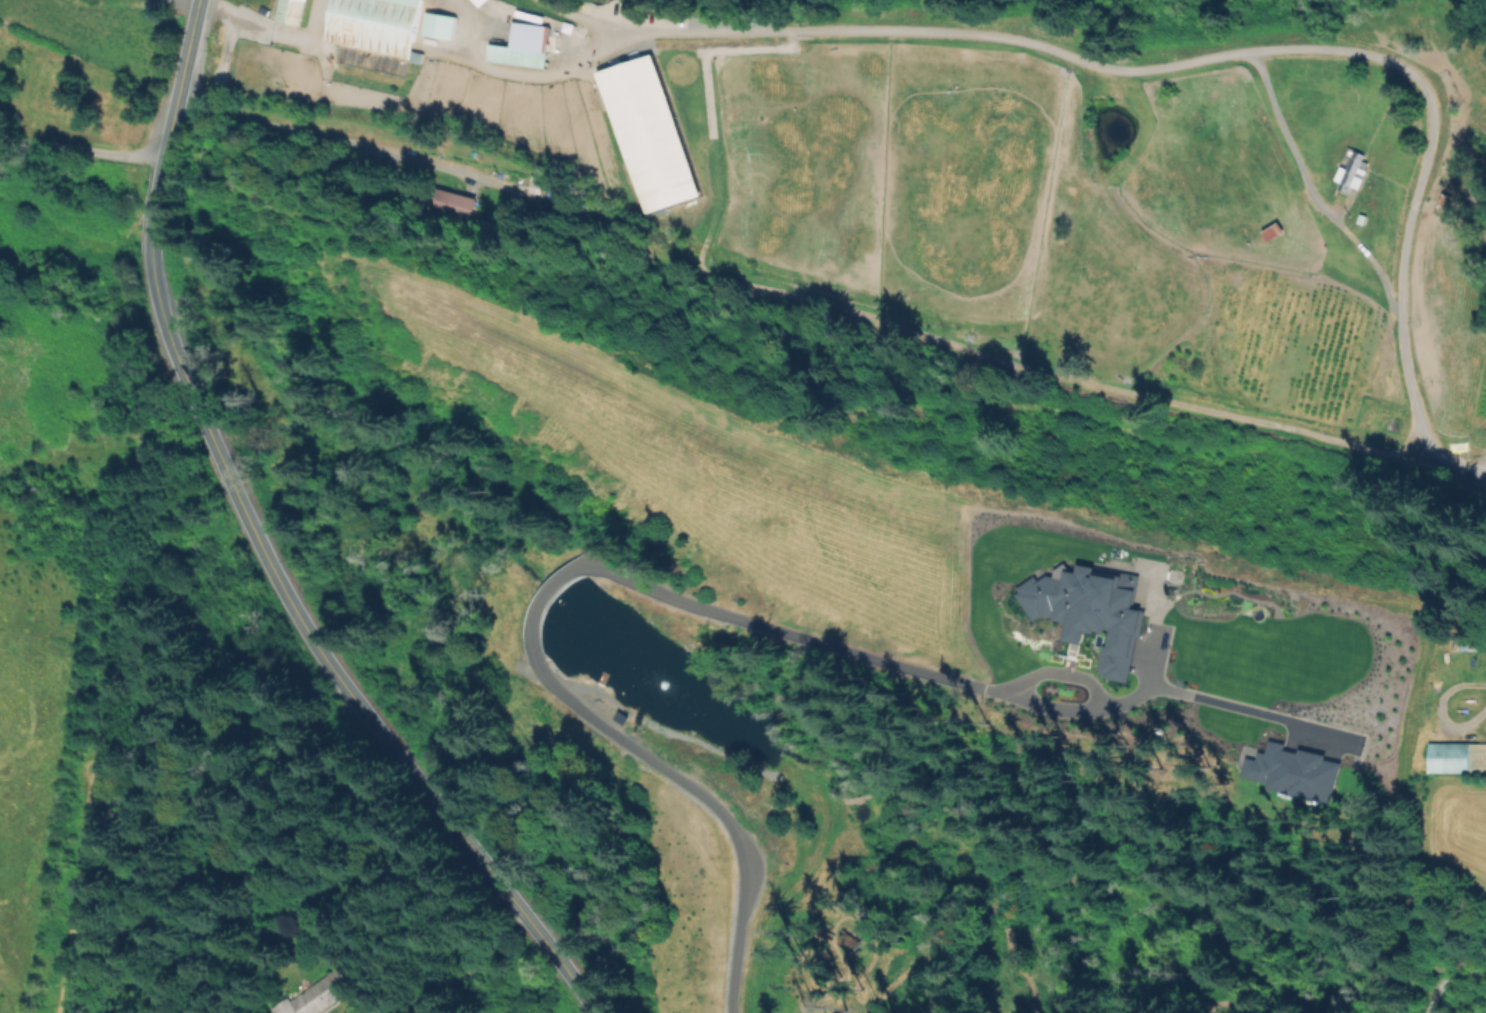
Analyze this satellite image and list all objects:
building: (290, 11)
building: (376, 25)
building: (441, 26)
building: (525, 47)
road: (1229, 50)
road: (552, 75)
road: (1277, 118)
building: (649, 136)
road: (83, 153)
building: (1353, 173)
building: (454, 204)
building: (1363, 219)
road: (826, 308)
road: (264, 546)
road: (561, 578)
road: (809, 644)
building: (1412, 677)
road: (1439, 714)
building: (1455, 760)
road: (674, 777)
building: (847, 942)
road: (467, 962)
road: (1447, 978)
building: (317, 993)

